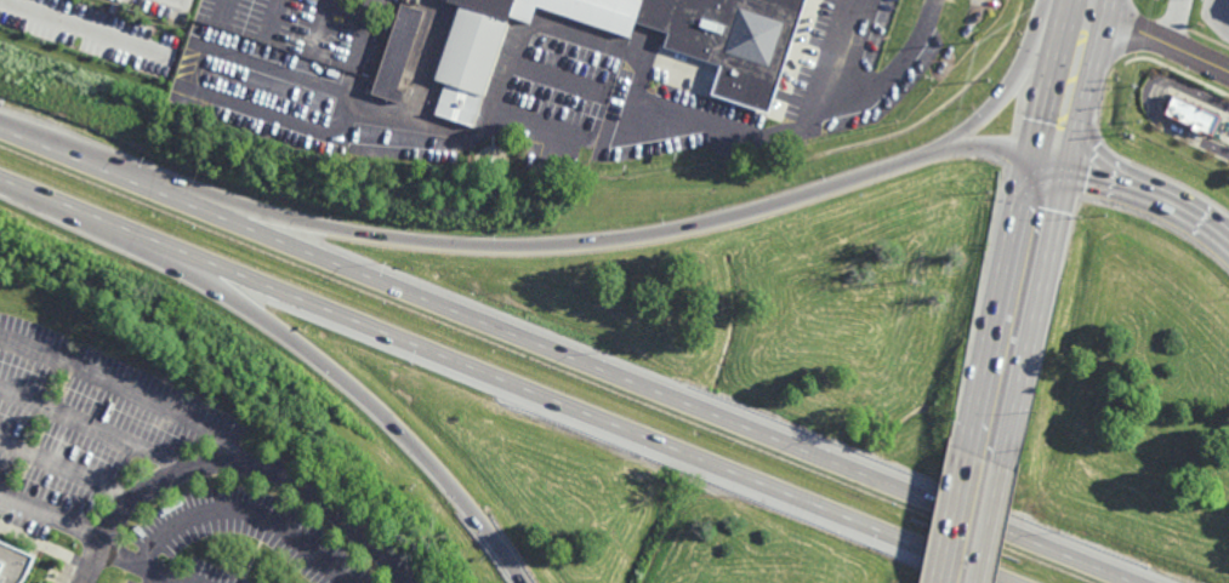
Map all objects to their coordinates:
road: (182, 2)
road: (1089, 5)
road: (229, 10)
road: (275, 17)
road: (1214, 17)
road: (1174, 23)
road: (323, 24)
road: (365, 33)
road: (1157, 40)
road: (859, 50)
power tower: (971, 50)
building: (396, 55)
building: (739, 58)
road: (425, 68)
road: (288, 73)
road: (644, 73)
road: (1070, 84)
road: (1014, 90)
road: (1149, 99)
road: (268, 115)
building: (1190, 116)
road: (988, 143)
traffic signals: (1049, 155)
road: (1143, 181)
road: (461, 245)
power tower: (909, 287)
road: (1017, 305)
road: (294, 341)
road: (567, 355)
road: (500, 381)
road: (126, 394)
road: (93, 428)
road: (243, 463)
road: (66, 473)
road: (241, 508)
road: (52, 518)
road: (971, 519)
parking lot: (258, 531)
building: (13, 565)
road: (138, 566)
parking lot: (224, 568)
parking lot: (136, 579)
road: (157, 579)

